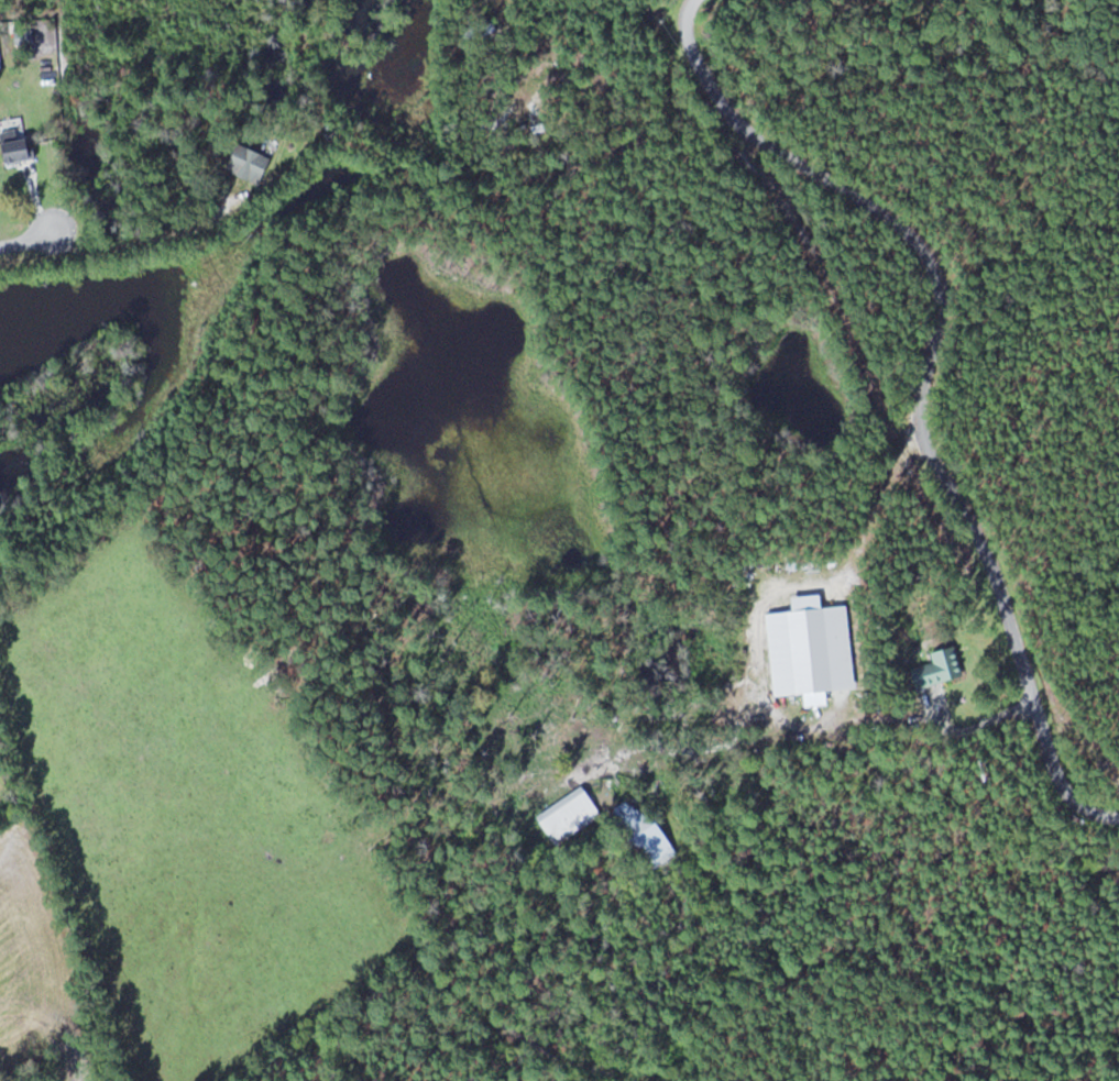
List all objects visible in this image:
building: (19, 146)
building: (253, 164)
road: (30, 238)
road: (924, 380)
building: (939, 668)
building: (572, 814)
building: (650, 832)

